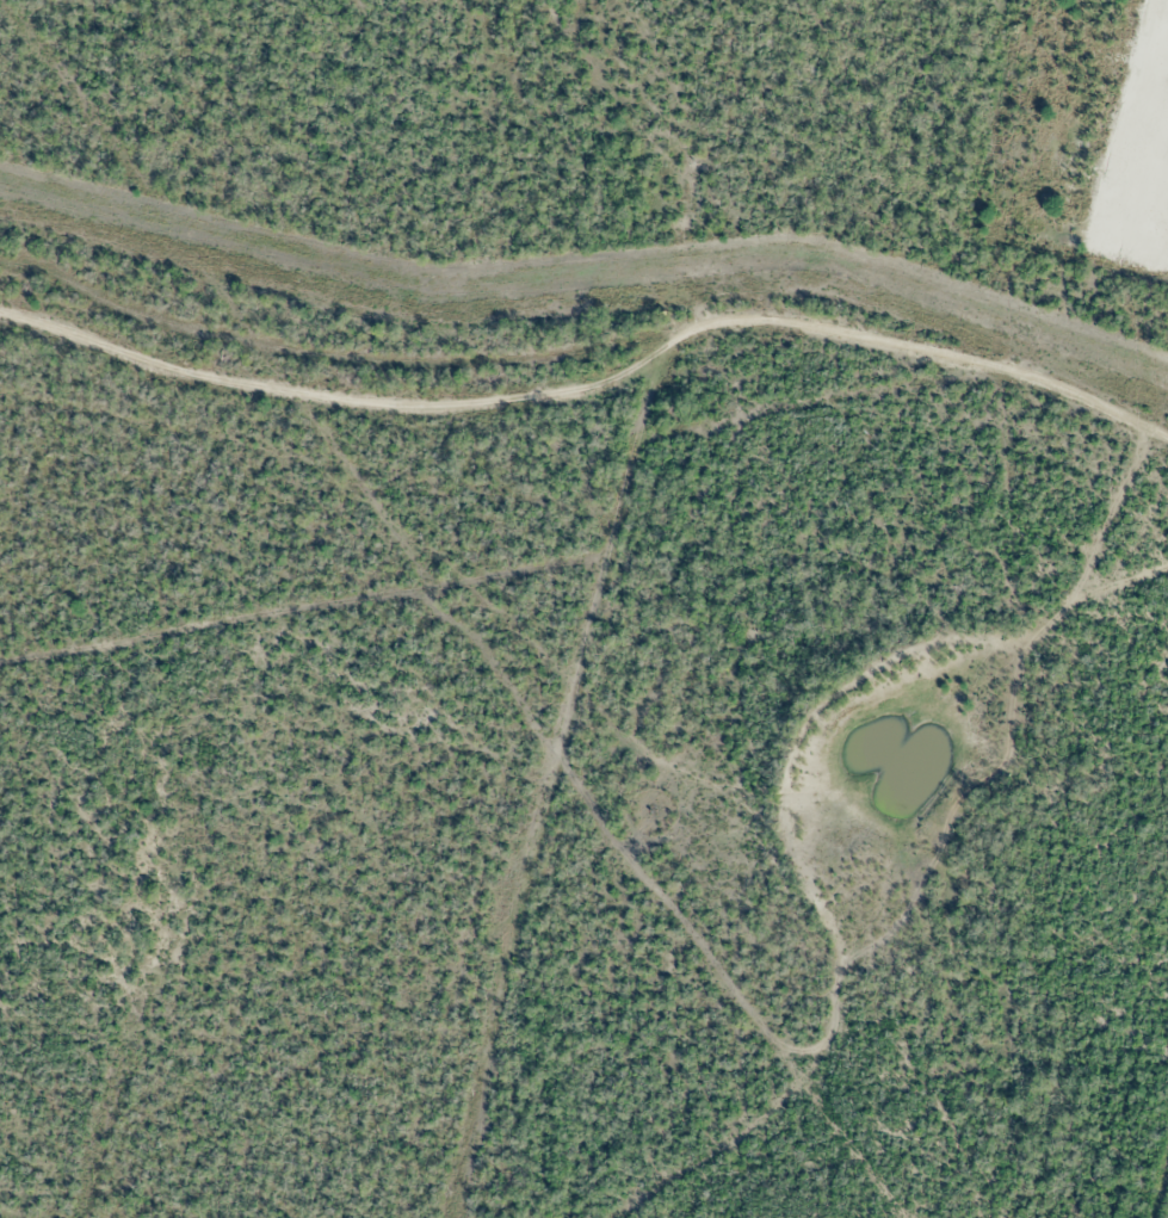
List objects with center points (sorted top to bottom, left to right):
road: (591, 309)

